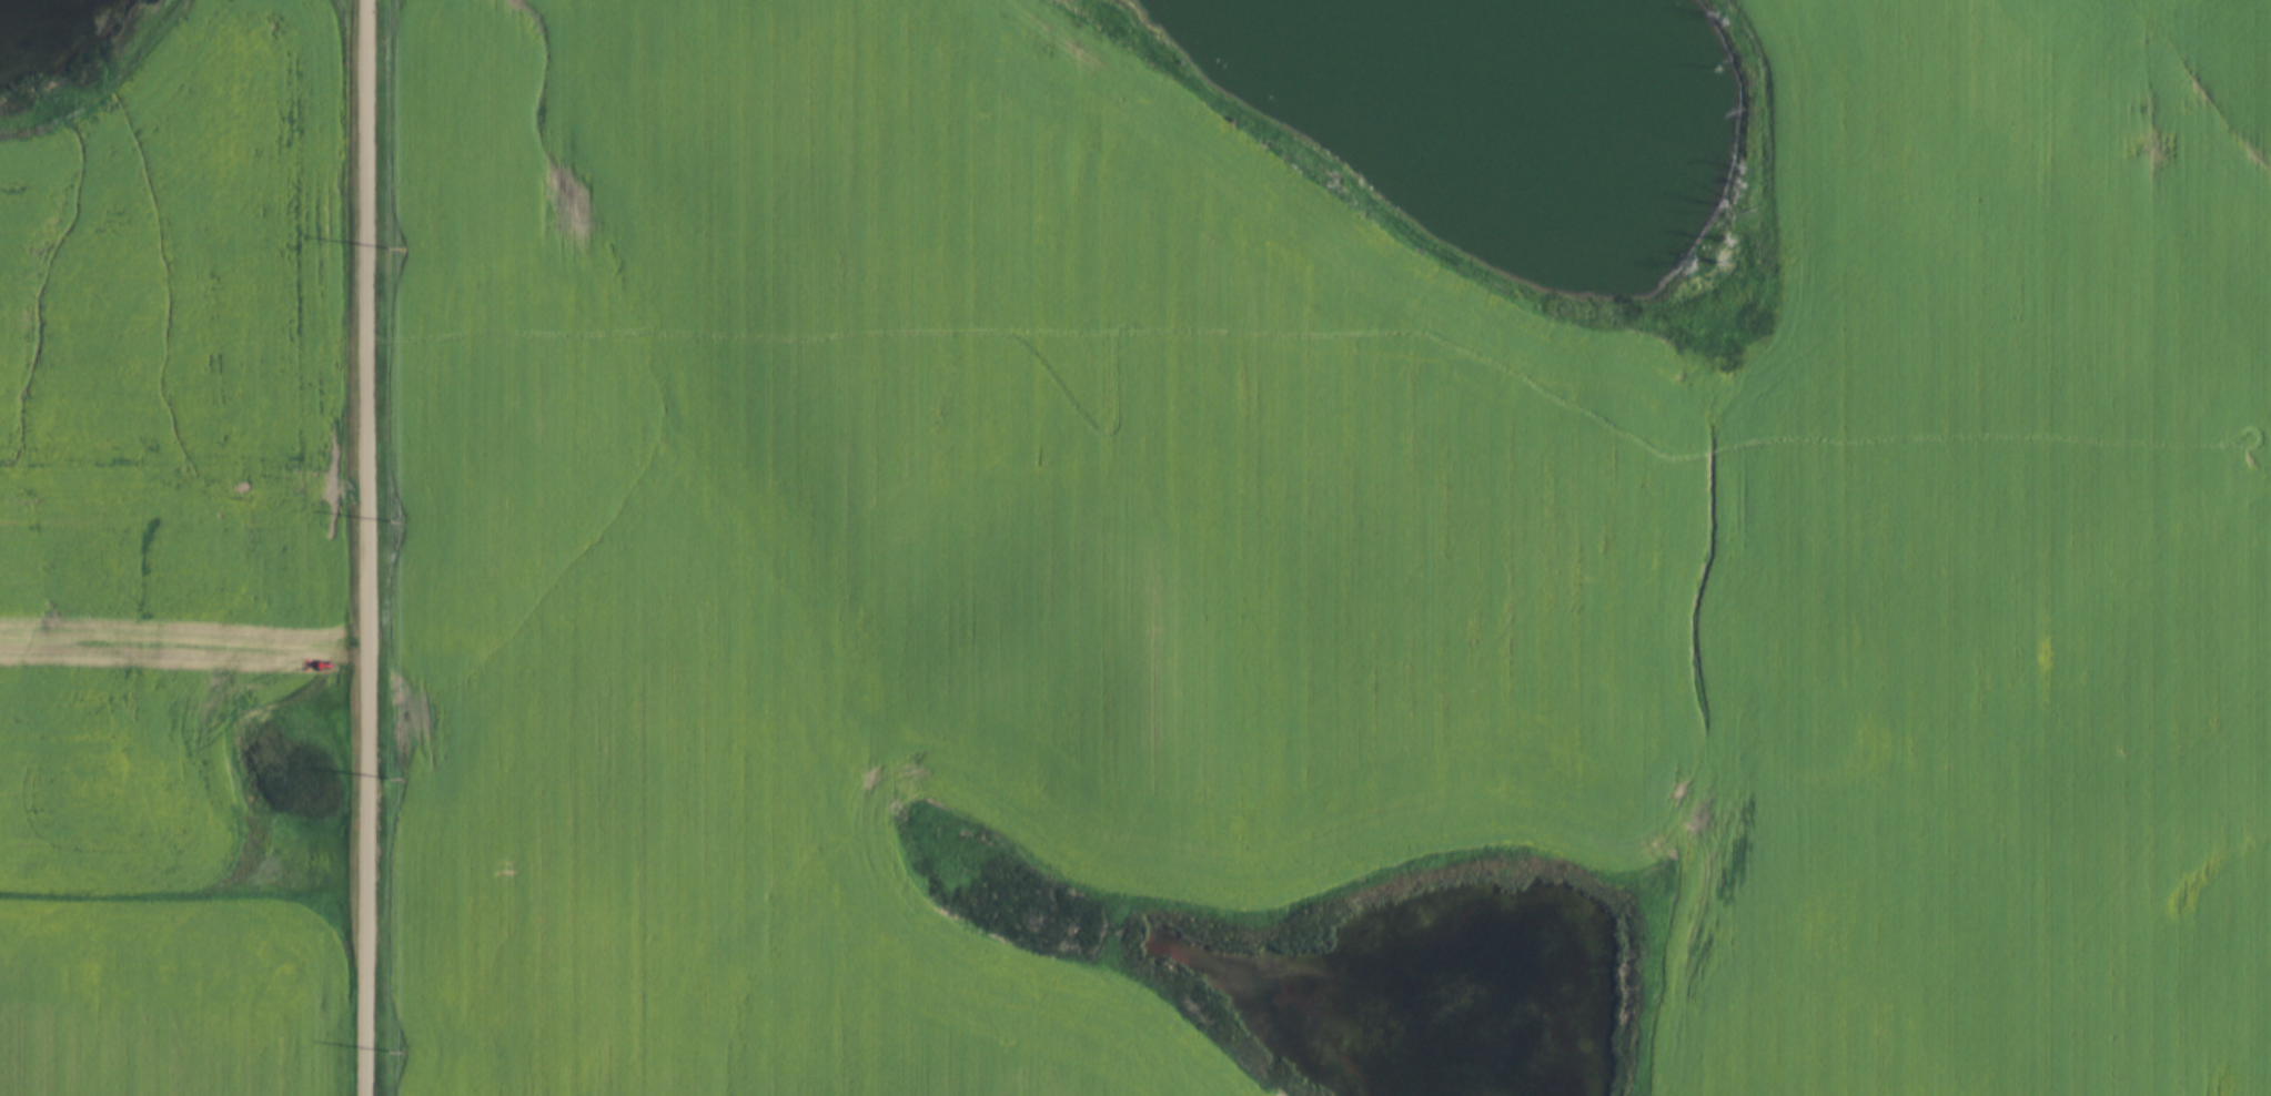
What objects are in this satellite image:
wind turbine: (2182, 432)
road: (371, 548)

